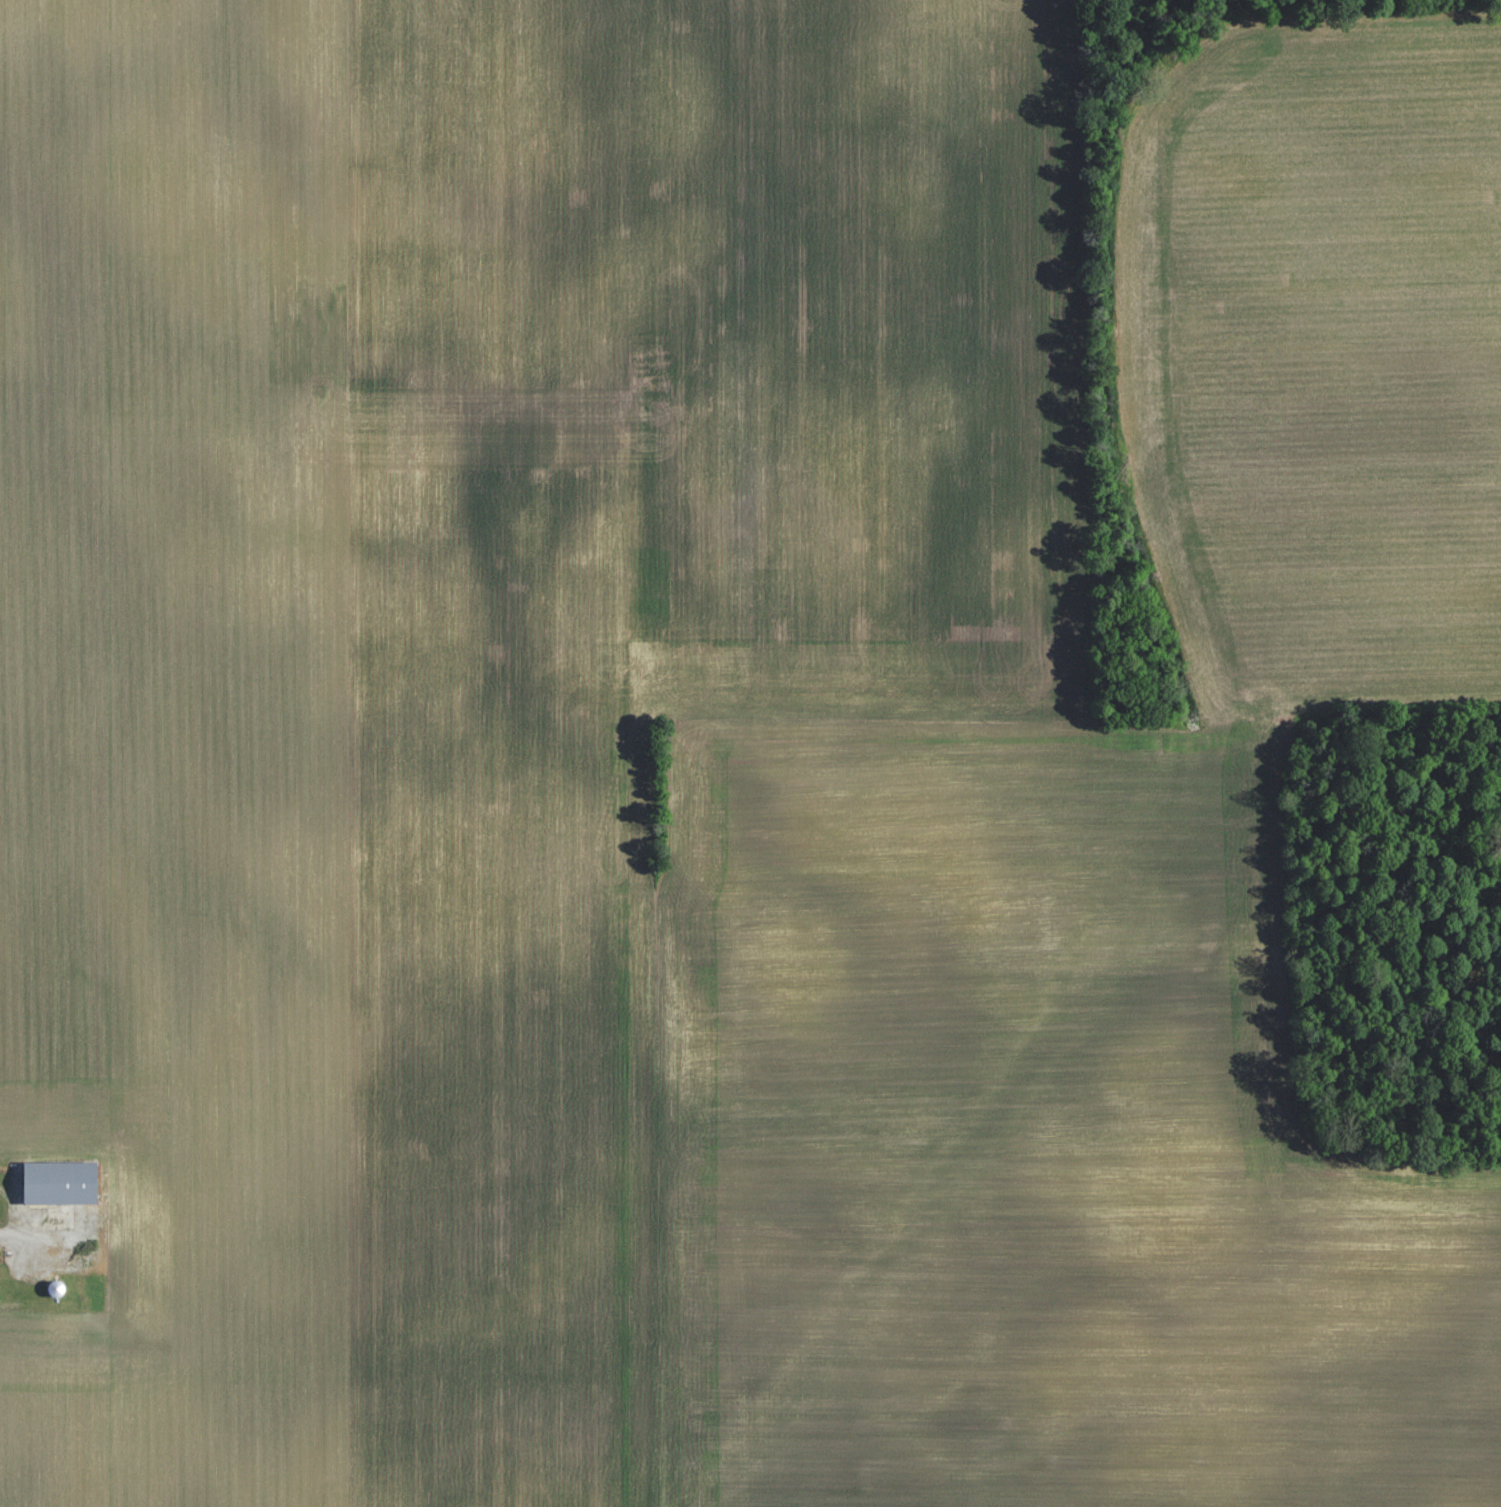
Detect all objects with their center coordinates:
building: (57, 1181)

